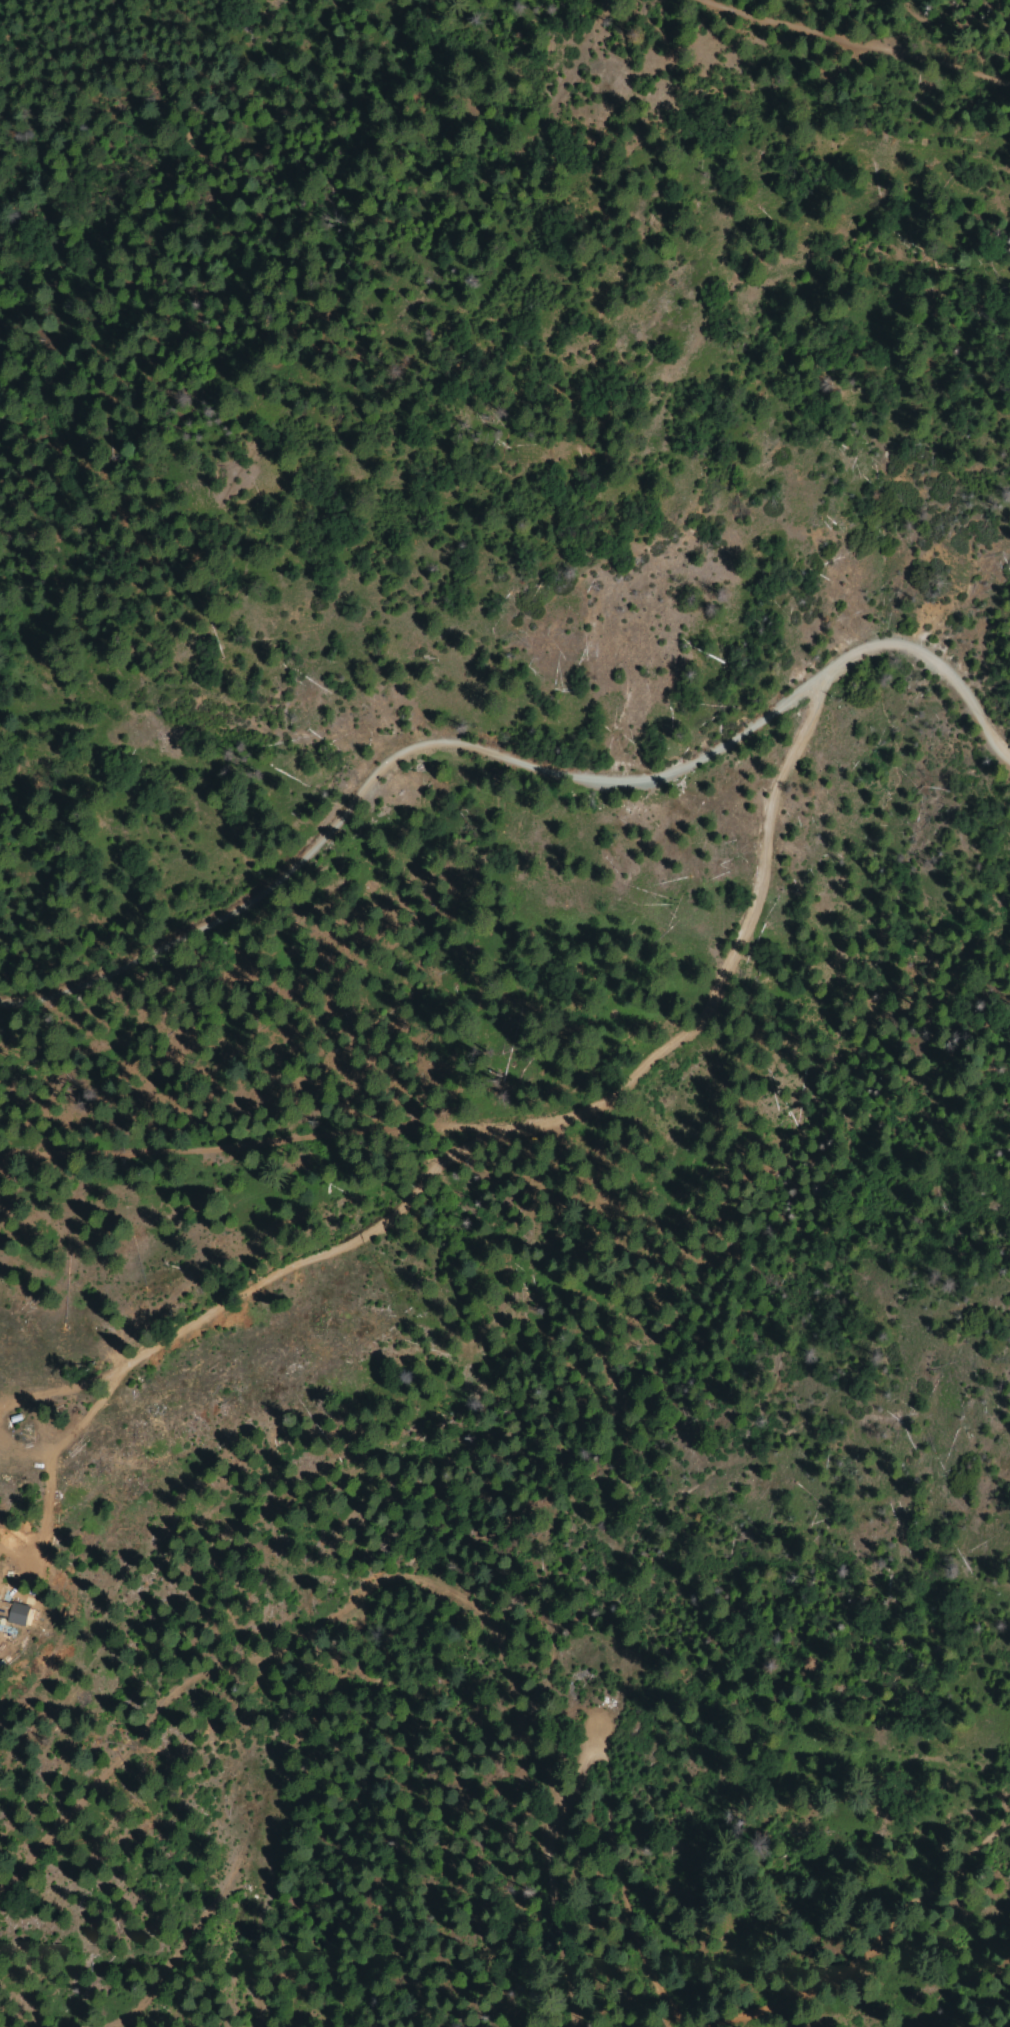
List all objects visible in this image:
road: (858, 78)
road: (499, 754)
road: (706, 1549)
building: (4, 1610)
building: (17, 1614)

